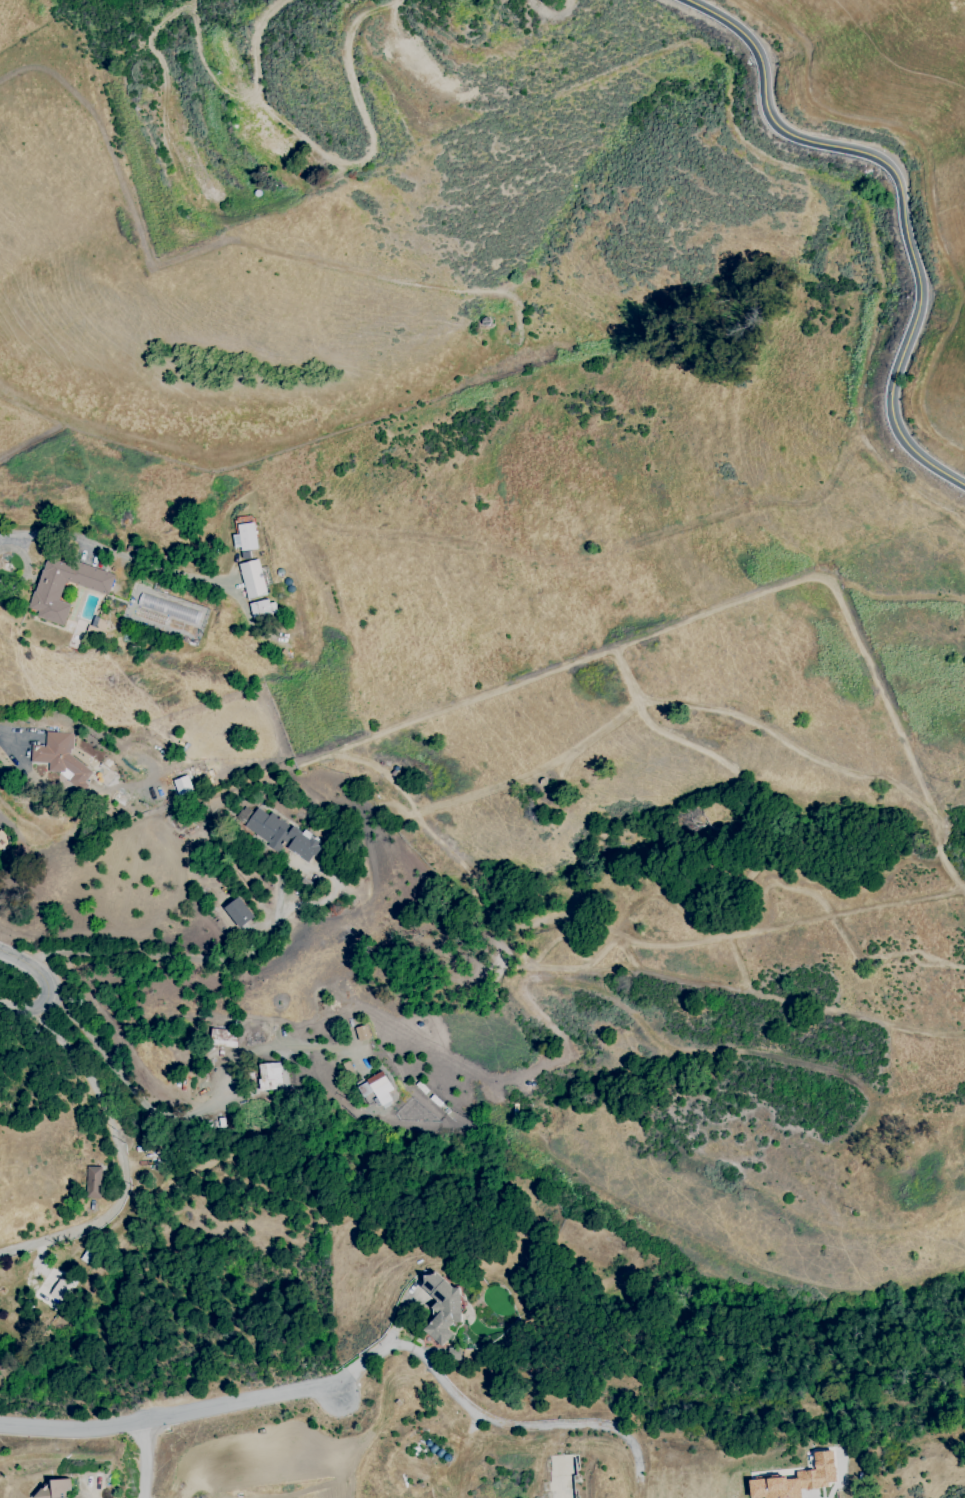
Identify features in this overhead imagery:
building: (270, 137)
road: (345, 163)
building: (191, 168)
road: (282, 200)
road: (904, 200)
building: (244, 537)
road: (108, 550)
building: (252, 579)
building: (49, 588)
building: (262, 609)
building: (58, 757)
building: (182, 786)
building: (276, 832)
building: (238, 912)
road: (180, 959)
road: (51, 983)
building: (362, 1033)
building: (223, 1037)
road: (77, 1069)
building: (268, 1075)
building: (375, 1090)
road: (183, 1115)
building: (93, 1182)
road: (92, 1221)
building: (59, 1291)
building: (442, 1306)
road: (198, 1413)
road: (522, 1425)
road: (140, 1462)
building: (797, 1480)
building: (55, 1489)
road: (88, 1492)
building: (75, 1497)

